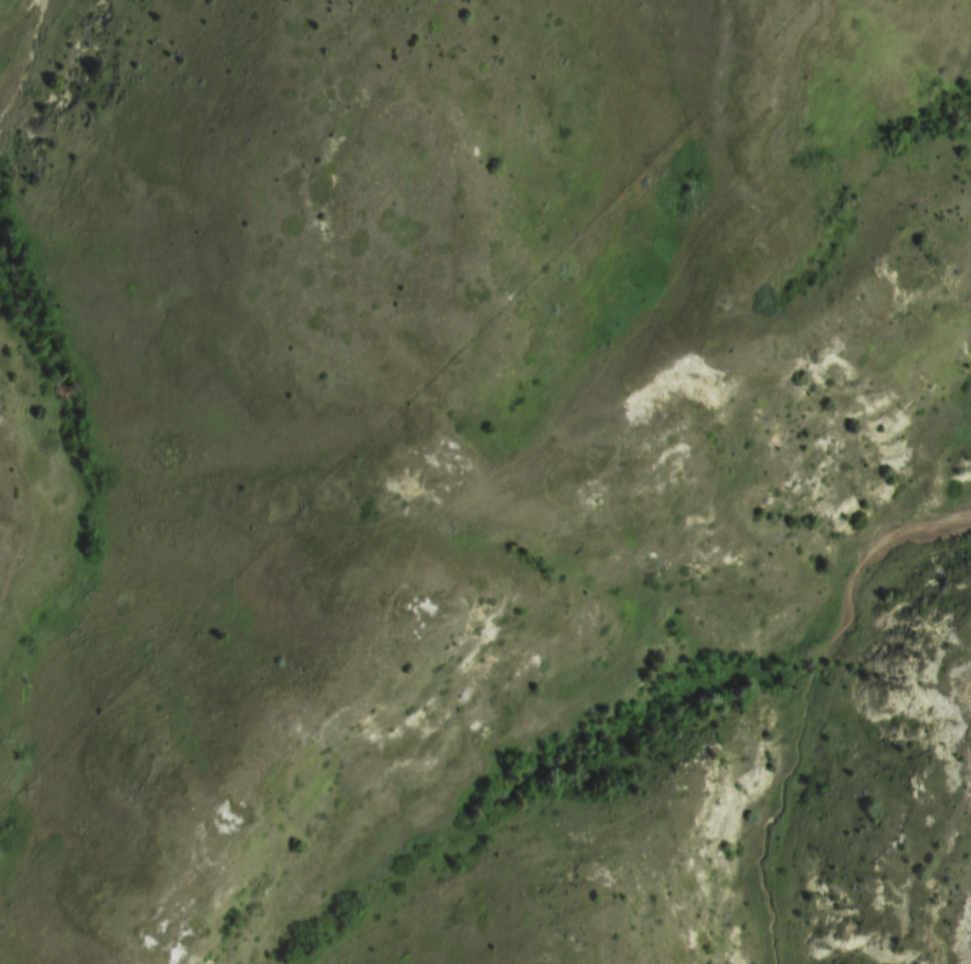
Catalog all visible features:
road: (17, 18)

